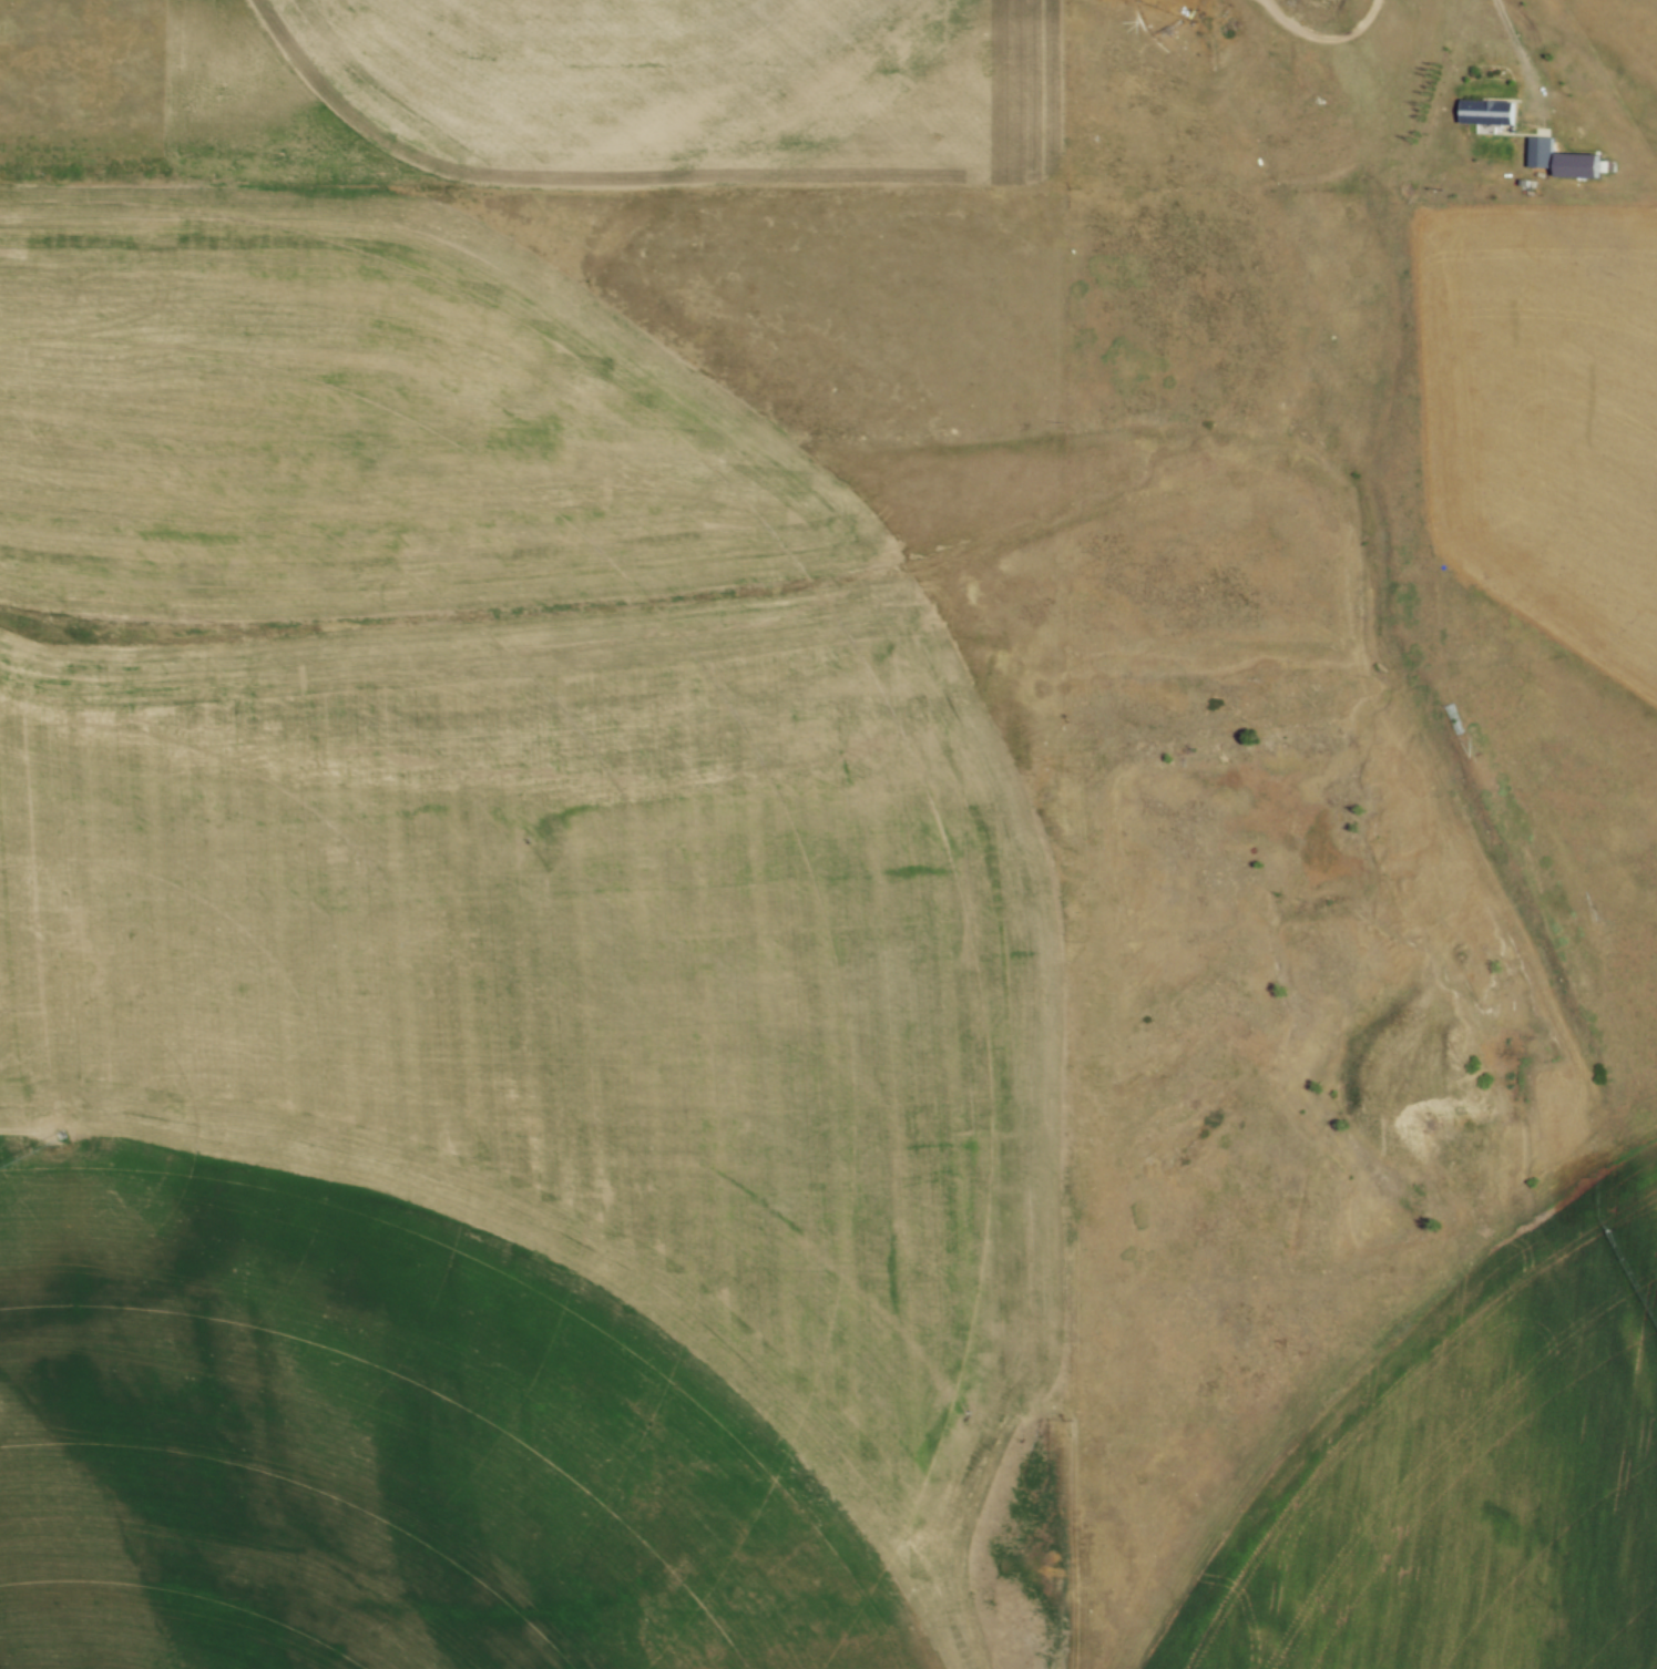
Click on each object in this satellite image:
road: (1513, 61)
crop: (610, 81)
building: (1483, 112)
building: (1537, 155)
crop: (1600, 930)
crop: (459, 974)

